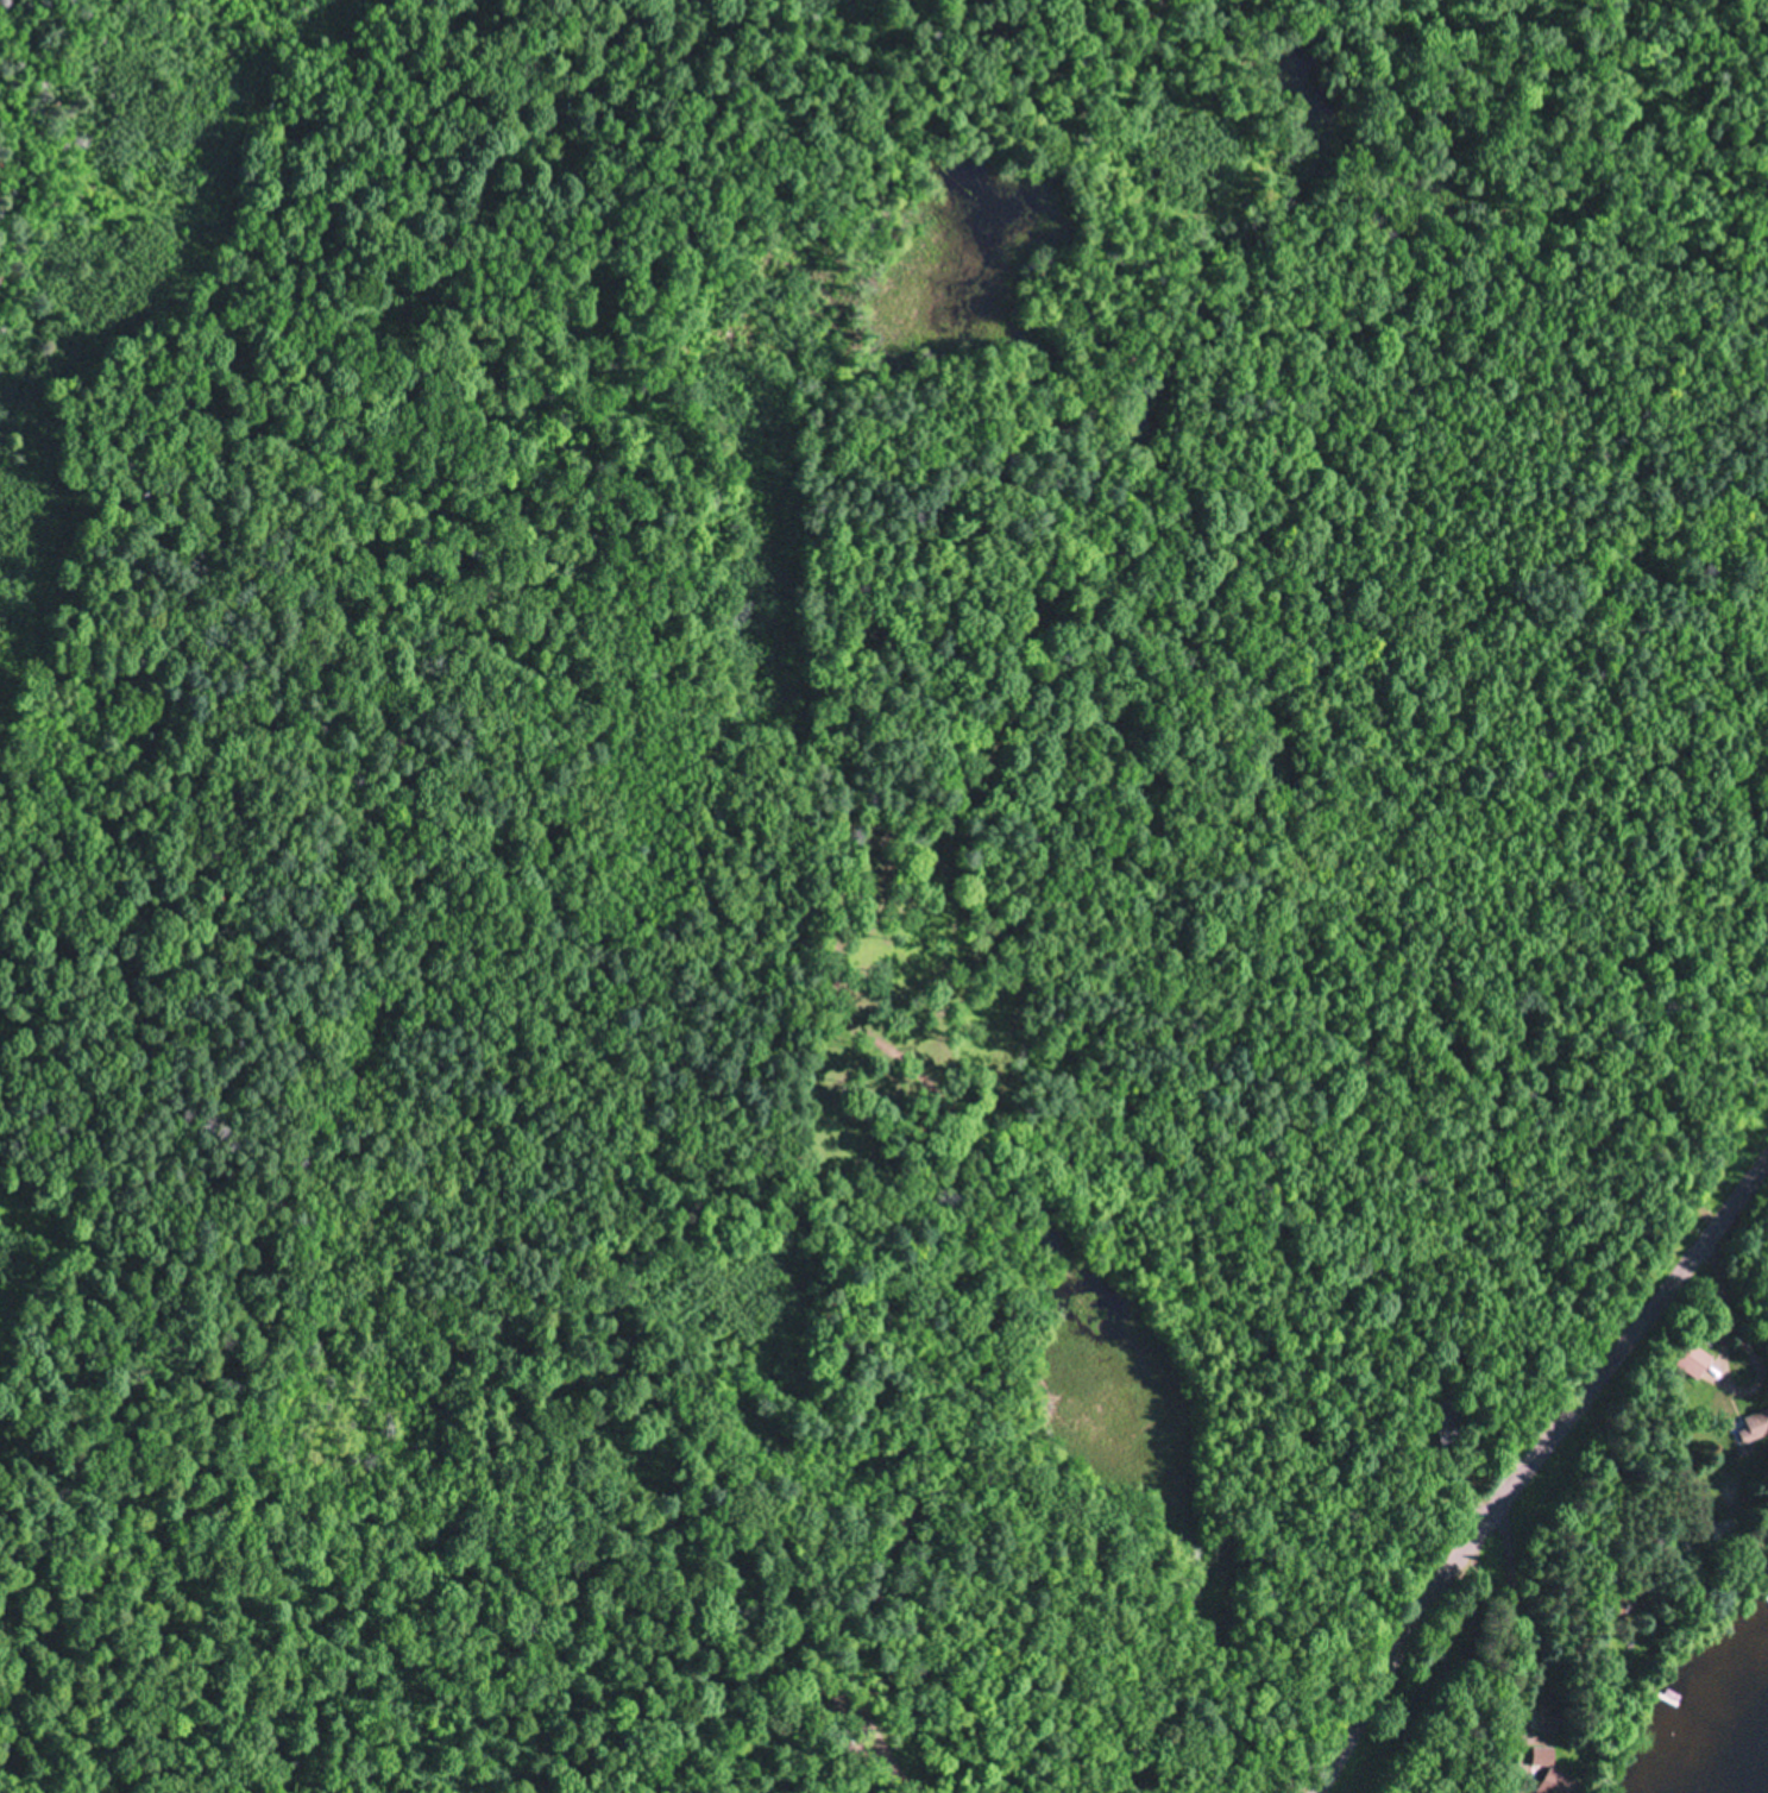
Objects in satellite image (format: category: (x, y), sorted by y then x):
building: (1698, 1363)
building: (1756, 1428)
road: (1531, 1470)
building: (1553, 1722)
building: (1546, 1759)

